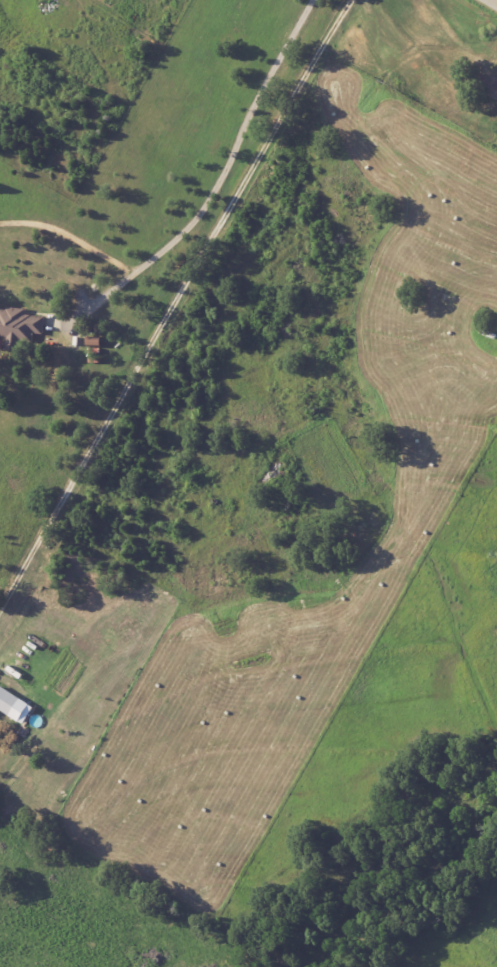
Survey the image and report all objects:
road: (492, 2)
road: (224, 173)
road: (172, 301)
building: (19, 327)
building: (15, 705)

